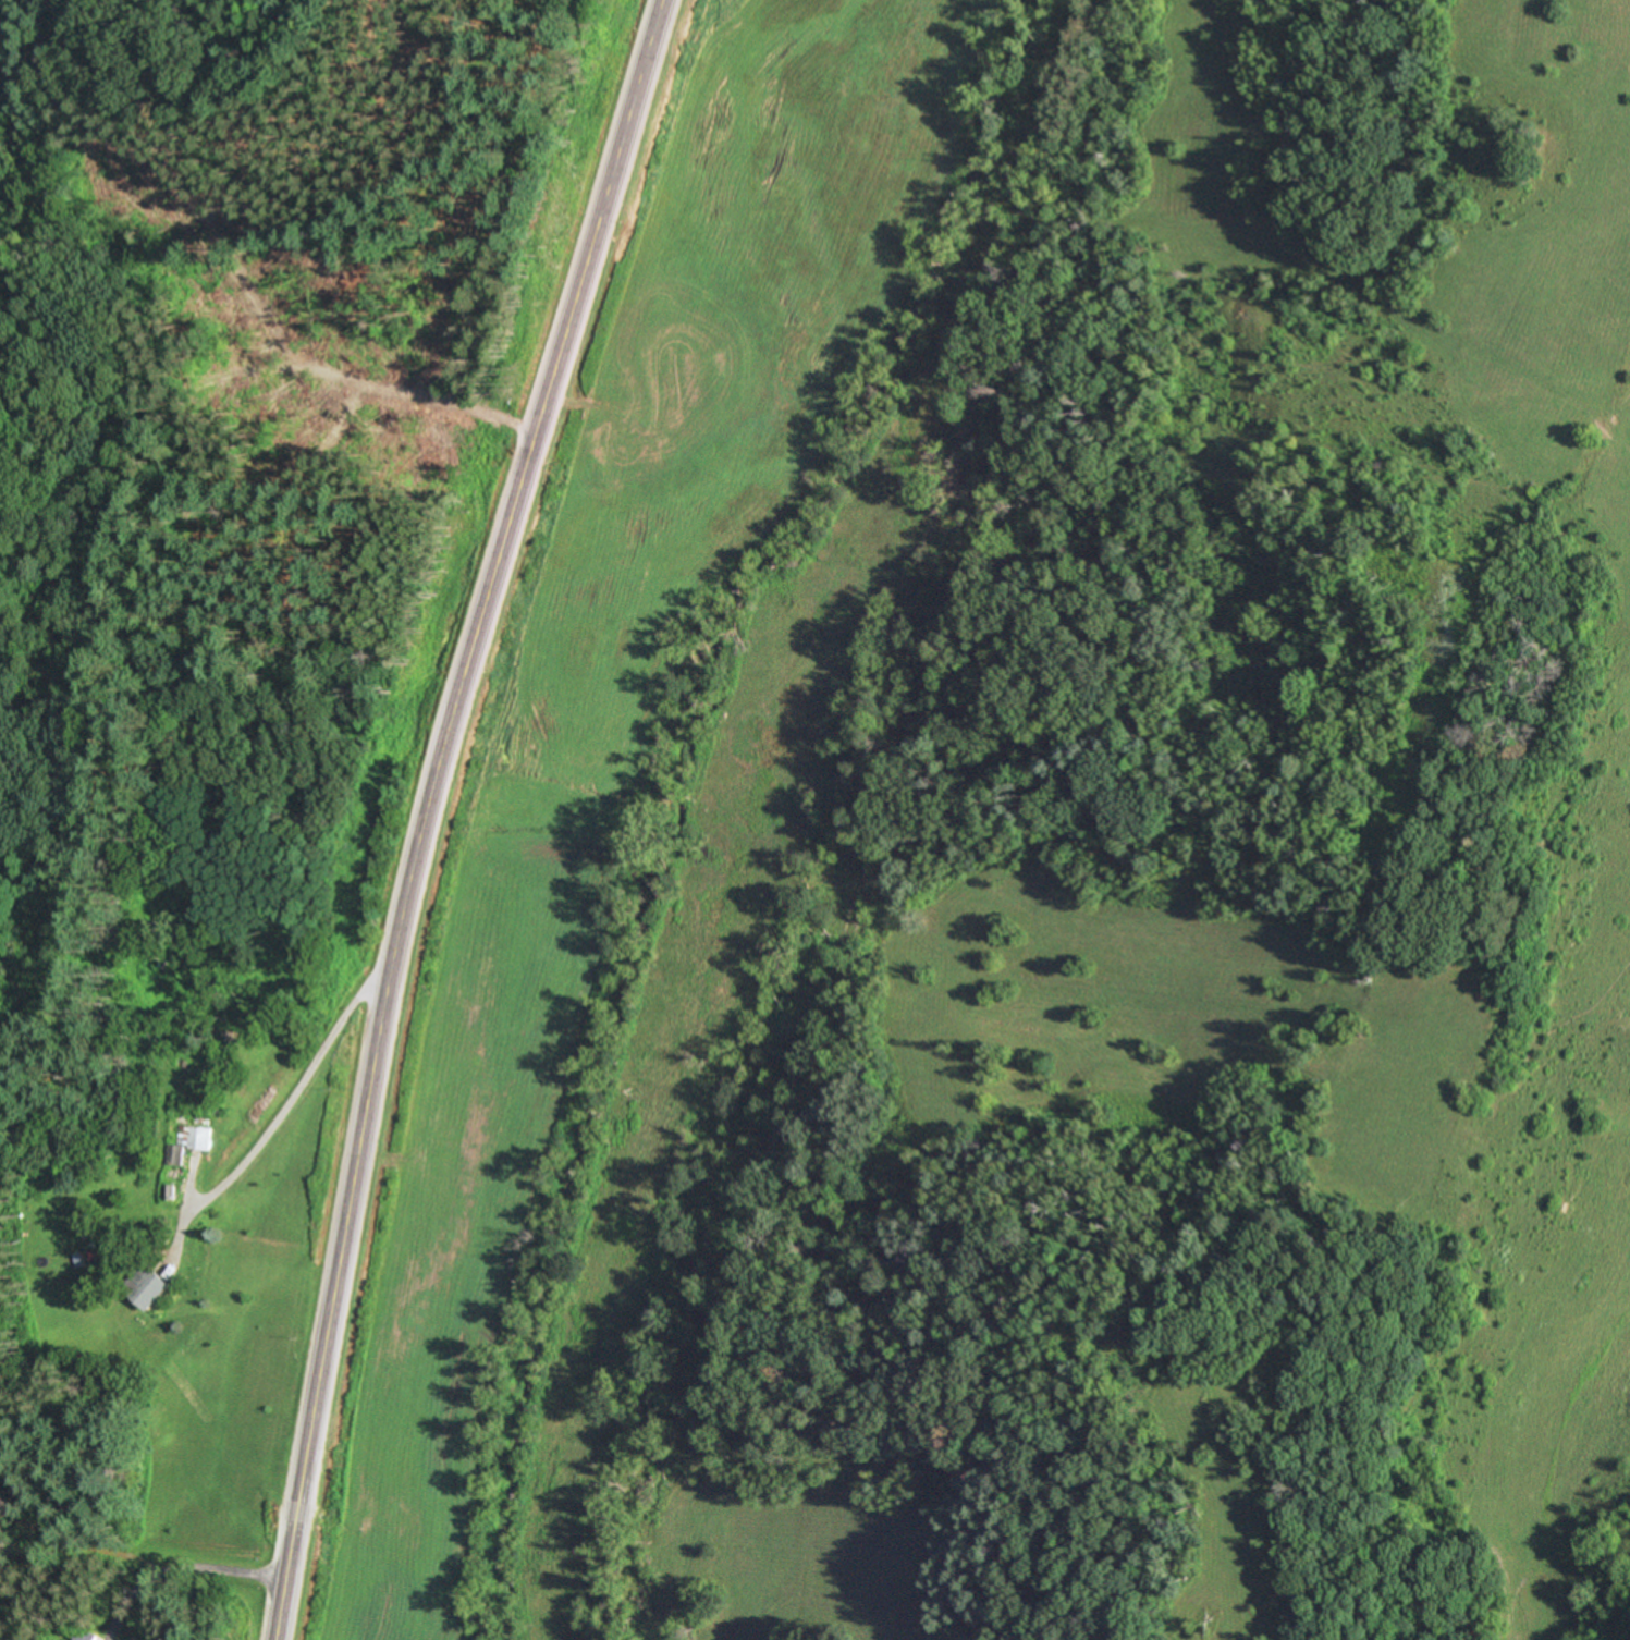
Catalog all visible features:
road: (419, 809)
road: (282, 1106)
building: (200, 1138)
building: (174, 1154)
building: (154, 1286)
road: (174, 1572)
building: (83, 1635)

